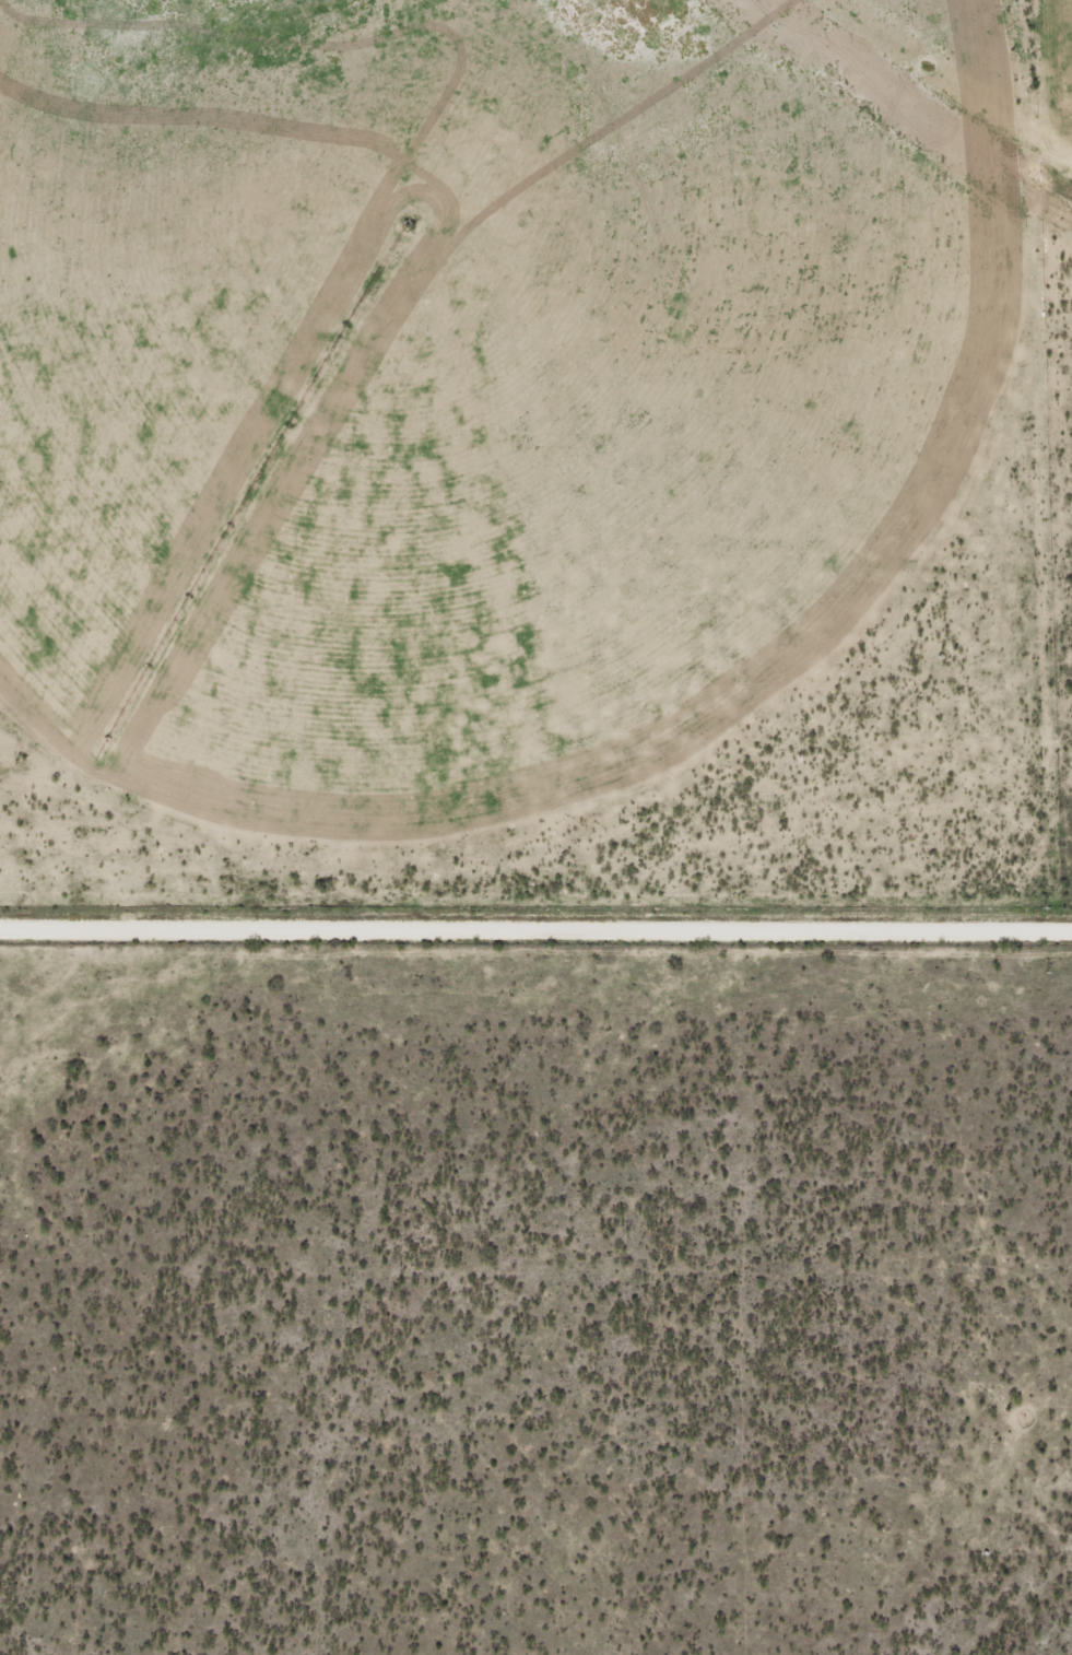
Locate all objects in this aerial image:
road: (535, 937)

